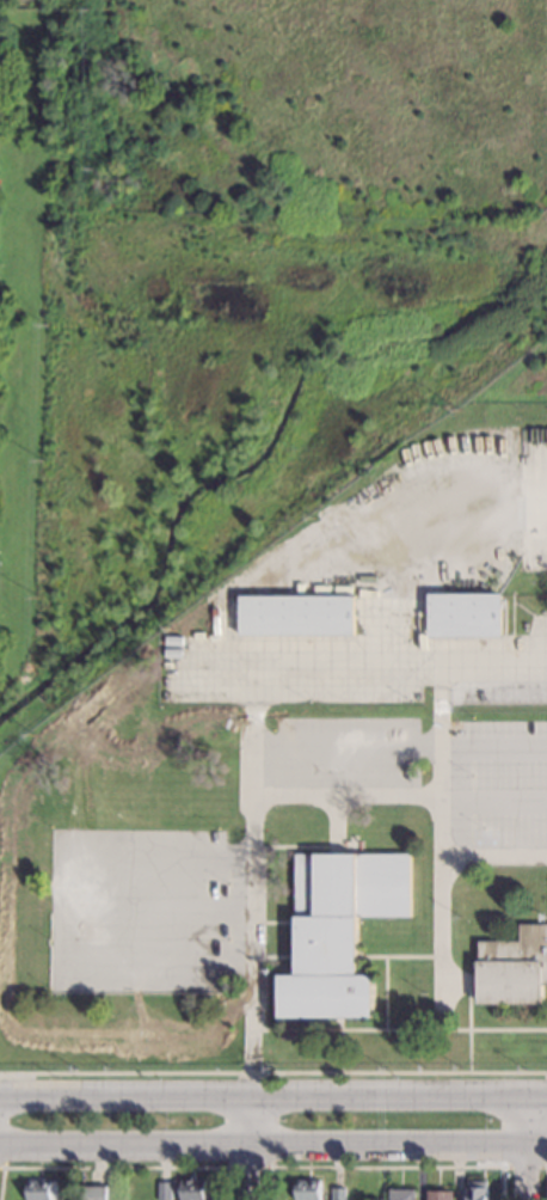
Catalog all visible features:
building: (297, 614)
building: (466, 614)
road: (376, 633)
road: (443, 758)
road: (263, 795)
road: (56, 910)
road: (444, 919)
building: (339, 927)
building: (514, 967)
road: (252, 1030)
road: (273, 1072)
road: (272, 1092)
road: (6, 1121)
road: (273, 1141)
road: (524, 1145)
road: (250, 1147)
road: (273, 1149)
road: (116, 1167)
road: (388, 1167)
road: (524, 1167)
road: (546, 1183)
building: (41, 1189)
building: (192, 1189)
building: (307, 1189)
building: (165, 1190)
building: (478, 1190)
building: (96, 1193)
building: (338, 1194)
building: (401, 1194)
building: (438, 1195)

